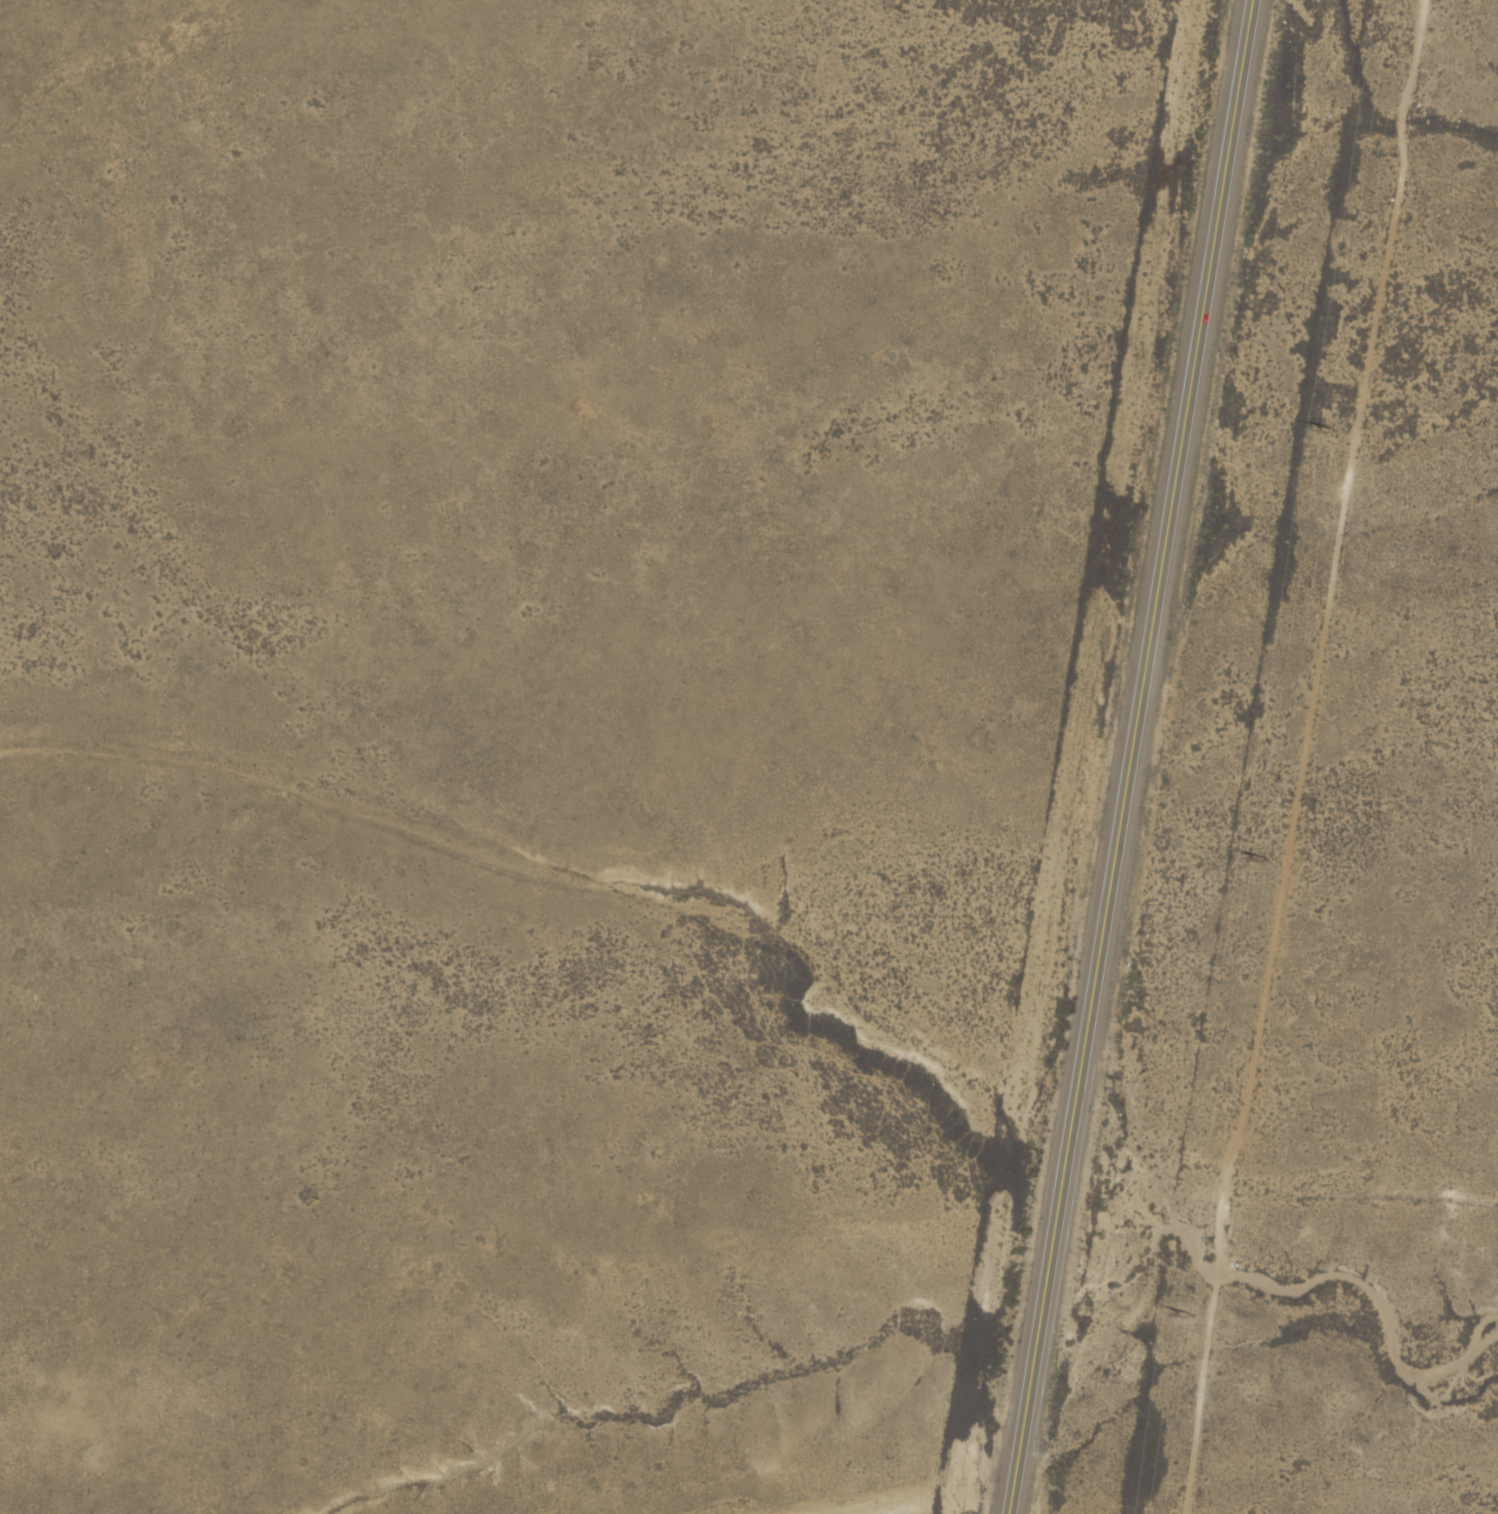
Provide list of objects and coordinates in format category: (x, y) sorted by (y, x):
power tower: (1334, 428)
road: (1119, 755)
power tower: (1265, 857)
power tower: (1191, 1314)

